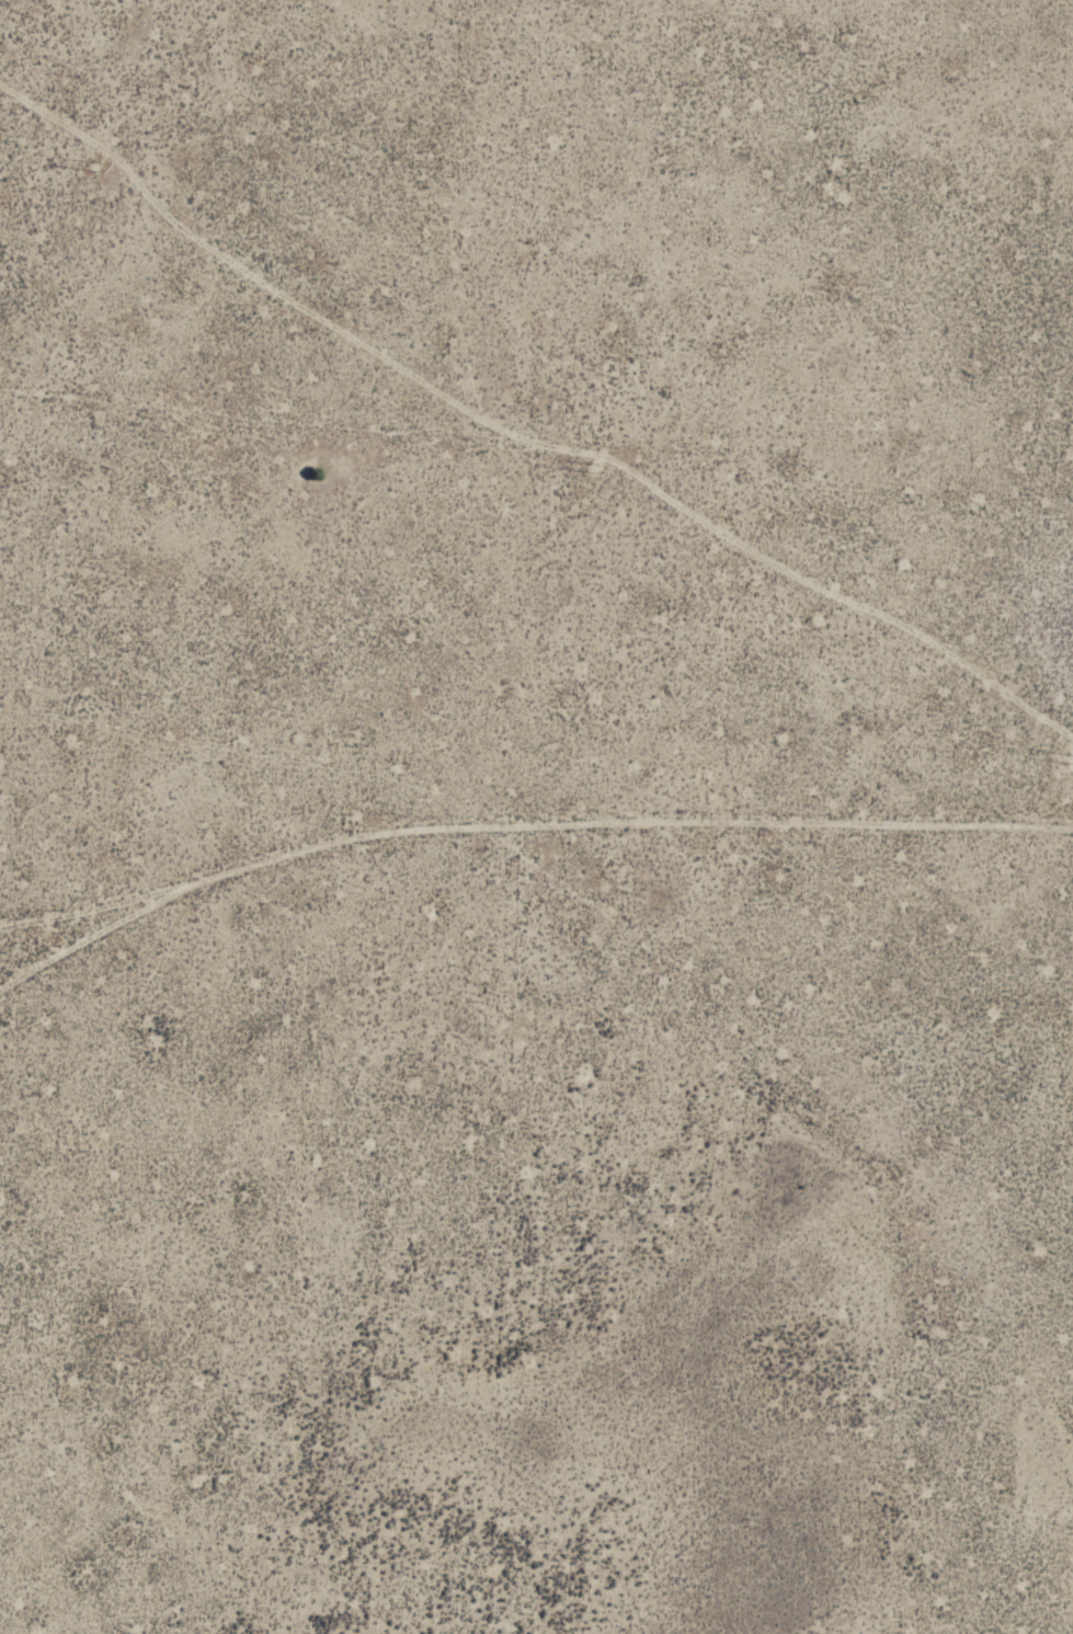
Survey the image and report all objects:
power tower: (94, 169)
power tower: (593, 468)
road: (647, 823)
road: (121, 945)
road: (15, 1003)

